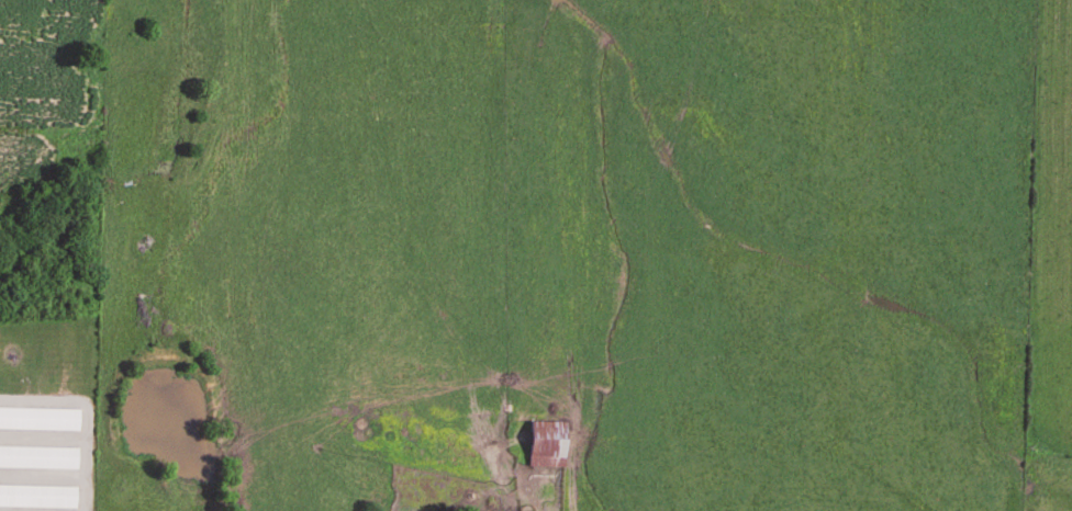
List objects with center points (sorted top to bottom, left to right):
building: (38, 420)
building: (545, 445)
building: (37, 458)
building: (37, 497)

